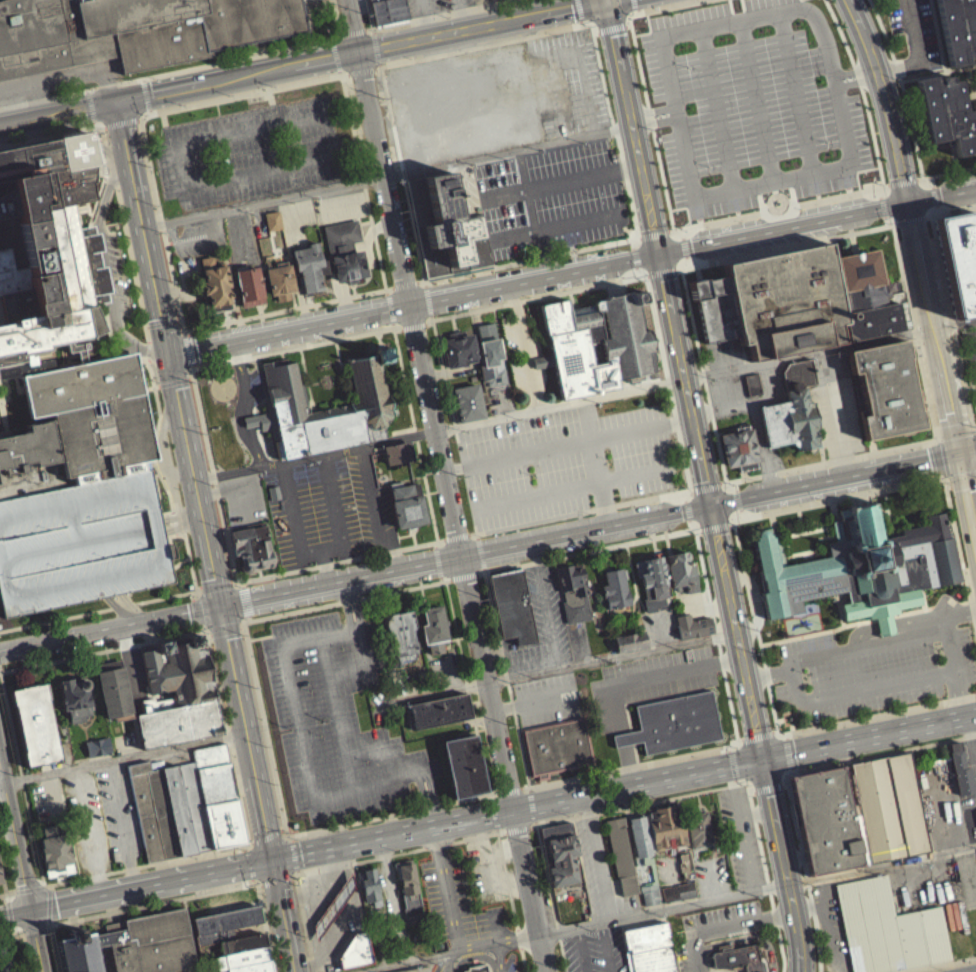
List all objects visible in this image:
railway: (1, 0)
road: (604, 0)
road: (607, 0)
traffic signals: (605, 1)
building: (500, 2)
road: (634, 4)
building: (388, 10)
road: (635, 10)
road: (580, 12)
road: (369, 14)
road: (442, 14)
road: (877, 14)
road: (479, 25)
road: (612, 28)
road: (370, 29)
building: (957, 29)
building: (132, 30)
road: (351, 32)
parking lot: (914, 35)
road: (533, 39)
road: (375, 47)
road: (562, 51)
road: (920, 54)
road: (331, 58)
road: (213, 62)
road: (322, 63)
road: (376, 75)
road: (359, 78)
road: (856, 78)
road: (436, 79)
road: (247, 80)
road: (336, 80)
road: (343, 82)
parking lot: (567, 82)
road: (140, 83)
parking lot: (420, 83)
road: (644, 89)
road: (862, 90)
road: (159, 97)
road: (884, 97)
road: (45, 98)
road: (144, 101)
road: (266, 103)
parking lot: (754, 105)
road: (91, 106)
traffic signals: (114, 107)
road: (343, 114)
building: (948, 115)
road: (841, 116)
road: (57, 118)
road: (147, 118)
road: (350, 119)
street lamp: (142, 121)
road: (94, 122)
road: (160, 125)
road: (136, 127)
road: (912, 128)
street lamp: (343, 129)
road: (118, 130)
street lamp: (138, 140)
road: (358, 144)
helipad: (74, 150)
road: (361, 150)
road: (504, 151)
parking lot: (249, 158)
road: (361, 158)
road: (177, 176)
road: (920, 177)
street lamp: (153, 179)
road: (573, 179)
road: (931, 180)
road: (902, 181)
road: (116, 190)
road: (879, 191)
road: (504, 193)
road: (942, 193)
road: (933, 194)
parking lot: (552, 197)
traffic signals: (908, 200)
road: (881, 205)
parking lot: (377, 208)
road: (937, 208)
road: (259, 209)
road: (949, 210)
road: (149, 211)
road: (532, 212)
parking lot: (975, 212)
road: (779, 214)
parking lot: (337, 215)
road: (910, 219)
road: (581, 220)
road: (885, 220)
road: (897, 223)
road: (896, 224)
building: (270, 226)
parking lot: (294, 227)
building: (446, 227)
road: (653, 233)
road: (681, 233)
road: (139, 234)
road: (512, 235)
road: (632, 238)
road: (636, 238)
street lamp: (157, 240)
road: (365, 241)
road: (632, 242)
road: (186, 244)
parking lot: (196, 244)
building: (46, 245)
road: (684, 245)
road: (270, 247)
road: (166, 248)
parking lot: (239, 248)
road: (656, 253)
traffic signals: (657, 254)
road: (634, 256)
building: (342, 257)
parking lot: (387, 257)
building: (958, 258)
road: (687, 261)
road: (105, 268)
road: (679, 268)
road: (366, 272)
road: (638, 272)
road: (663, 272)
building: (307, 273)
road: (645, 275)
road: (535, 278)
road: (420, 282)
parking lot: (185, 283)
road: (425, 283)
road: (402, 285)
building: (277, 287)
road: (349, 287)
road: (362, 287)
building: (212, 292)
building: (247, 293)
road: (350, 294)
road: (384, 295)
road: (380, 296)
road: (428, 299)
building: (809, 299)
road: (351, 301)
street lamp: (375, 301)
road: (384, 301)
road: (232, 307)
building: (713, 307)
parking lot: (362, 308)
road: (387, 314)
parking lot: (322, 316)
road: (430, 320)
street lamp: (174, 321)
parking lot: (289, 323)
road: (954, 324)
street lamp: (253, 326)
road: (413, 326)
road: (176, 327)
parking lot: (258, 329)
road: (160, 330)
road: (398, 330)
street lamp: (177, 334)
parking lot: (215, 338)
road: (184, 339)
road: (379, 339)
road: (188, 341)
building: (598, 342)
road: (526, 346)
parking lot: (971, 347)
building: (458, 348)
parking lot: (523, 351)
road: (188, 355)
road: (338, 355)
building: (490, 355)
road: (75, 358)
traffic signals: (164, 362)
road: (941, 366)
road: (193, 369)
building: (538, 369)
road: (443, 372)
road: (191, 377)
road: (306, 378)
road: (174, 381)
road: (668, 383)
building: (753, 383)
road: (157, 385)
building: (885, 388)
road: (7, 389)
parking lot: (743, 390)
building: (751, 391)
building: (467, 401)
road: (563, 403)
parking lot: (836, 406)
building: (324, 408)
building: (792, 408)
road: (838, 413)
building: (94, 415)
road: (4, 416)
building: (258, 428)
road: (955, 436)
road: (567, 442)
building: (28, 446)
building: (739, 448)
building: (398, 451)
traffic signals: (960, 455)
building: (396, 460)
parking lot: (561, 460)
road: (595, 463)
building: (269, 475)
road: (843, 478)
road: (929, 481)
road: (735, 484)
road: (446, 485)
road: (570, 486)
road: (705, 486)
road: (684, 495)
road: (737, 498)
parking lot: (370, 503)
building: (407, 503)
traffic signals: (711, 505)
road: (375, 508)
road: (686, 509)
road: (166, 511)
parking lot: (314, 512)
road: (889, 513)
road: (741, 514)
road: (294, 516)
road: (185, 519)
road: (836, 519)
road: (690, 524)
road: (731, 524)
road: (831, 525)
road: (339, 527)
road: (715, 528)
road: (813, 528)
road: (801, 529)
road: (698, 531)
road: (476, 532)
road: (171, 535)
building: (81, 542)
parking garage: (81, 542)
building: (251, 545)
road: (465, 555)
road: (180, 562)
road: (191, 566)
building: (859, 567)
building: (681, 570)
building: (653, 581)
road: (233, 583)
road: (242, 583)
road: (216, 585)
building: (615, 587)
road: (199, 589)
building: (573, 592)
road: (193, 594)
road: (423, 596)
road: (245, 599)
road: (396, 601)
road: (750, 601)
building: (511, 604)
road: (948, 604)
traffic signals: (220, 605)
road: (196, 608)
road: (220, 609)
road: (919, 610)
road: (451, 612)
road: (952, 613)
road: (249, 617)
road: (919, 619)
road: (859, 622)
road: (550, 624)
road: (200, 625)
building: (693, 625)
road: (885, 625)
road: (223, 626)
road: (110, 628)
building: (434, 628)
parking lot: (542, 628)
road: (818, 632)
road: (860, 632)
building: (401, 633)
road: (260, 636)
road: (448, 640)
building: (630, 640)
road: (885, 641)
road: (104, 649)
building: (629, 649)
road: (364, 665)
building: (179, 667)
parking lot: (873, 671)
road: (651, 673)
parking lot: (134, 678)
parking lot: (648, 681)
building: (114, 689)
road: (862, 690)
building: (77, 697)
parking lot: (547, 697)
road: (534, 700)
building: (439, 709)
road: (877, 715)
parking lot: (339, 718)
building: (674, 722)
building: (35, 723)
building: (178, 723)
road: (974, 724)
road: (465, 731)
road: (619, 731)
road: (758, 735)
road: (787, 735)
road: (227, 736)
road: (868, 736)
road: (621, 738)
road: (741, 738)
road: (757, 738)
road: (736, 740)
building: (97, 745)
building: (556, 745)
road: (729, 748)
road: (791, 752)
road: (885, 752)
building: (96, 754)
road: (123, 756)
road: (304, 756)
traffic signals: (761, 758)
road: (387, 762)
road: (627, 764)
road: (733, 764)
building: (463, 765)
road: (794, 768)
building: (960, 768)
building: (214, 772)
road: (407, 775)
parking lot: (974, 777)
road: (22, 778)
road: (782, 778)
road: (736, 780)
road: (1, 781)
road: (767, 782)
road: (636, 783)
road: (752, 785)
road: (430, 786)
road: (421, 788)
road: (663, 798)
parking lot: (48, 800)
road: (280, 805)
building: (195, 806)
building: (179, 809)
building: (145, 810)
building: (162, 812)
building: (858, 812)
road: (433, 814)
parking lot: (103, 818)
building: (224, 822)
road: (122, 823)
road: (535, 823)
building: (666, 829)
building: (699, 829)
road: (90, 830)
road: (391, 833)
building: (640, 835)
road: (266, 836)
parking lot: (742, 836)
road: (465, 838)
road: (743, 838)
road: (250, 843)
road: (246, 846)
building: (55, 852)
building: (560, 852)
road: (293, 854)
building: (622, 854)
traffic signals: (270, 859)
road: (249, 862)
road: (146, 864)
road: (601, 867)
road: (803, 867)
road: (21, 869)
parking lot: (600, 870)
parking lot: (713, 874)
road: (712, 877)
building: (0, 878)
road: (3, 879)
road: (275, 880)
road: (257, 881)
road: (149, 884)
building: (371, 885)
road: (44, 886)
road: (448, 887)
building: (409, 889)
building: (678, 891)
road: (3, 895)
building: (650, 896)
parking lot: (457, 901)
road: (152, 902)
road: (812, 904)
building: (333, 905)
gas station: (333, 905)
road: (666, 907)
traffic signals: (30, 910)
road: (14, 913)
road: (282, 915)
road: (114, 916)
road: (304, 921)
road: (75, 924)
road: (497, 924)
road: (726, 924)
road: (832, 924)
road: (267, 927)
parking lot: (832, 928)
building: (887, 928)
parking lot: (710, 930)
road: (7, 933)
road: (748, 936)
building: (234, 939)
building: (150, 942)
road: (606, 945)
road: (56, 948)
road: (582, 948)
building: (649, 948)
building: (356, 950)
parking lot: (596, 950)
road: (17, 952)
building: (80, 952)
road: (476, 955)
building: (5, 957)
road: (498, 957)
building: (738, 957)
parking lot: (510, 960)
road: (447, 962)
road: (938, 964)
parking lot: (445, 965)
building: (478, 967)
building: (415, 969)

